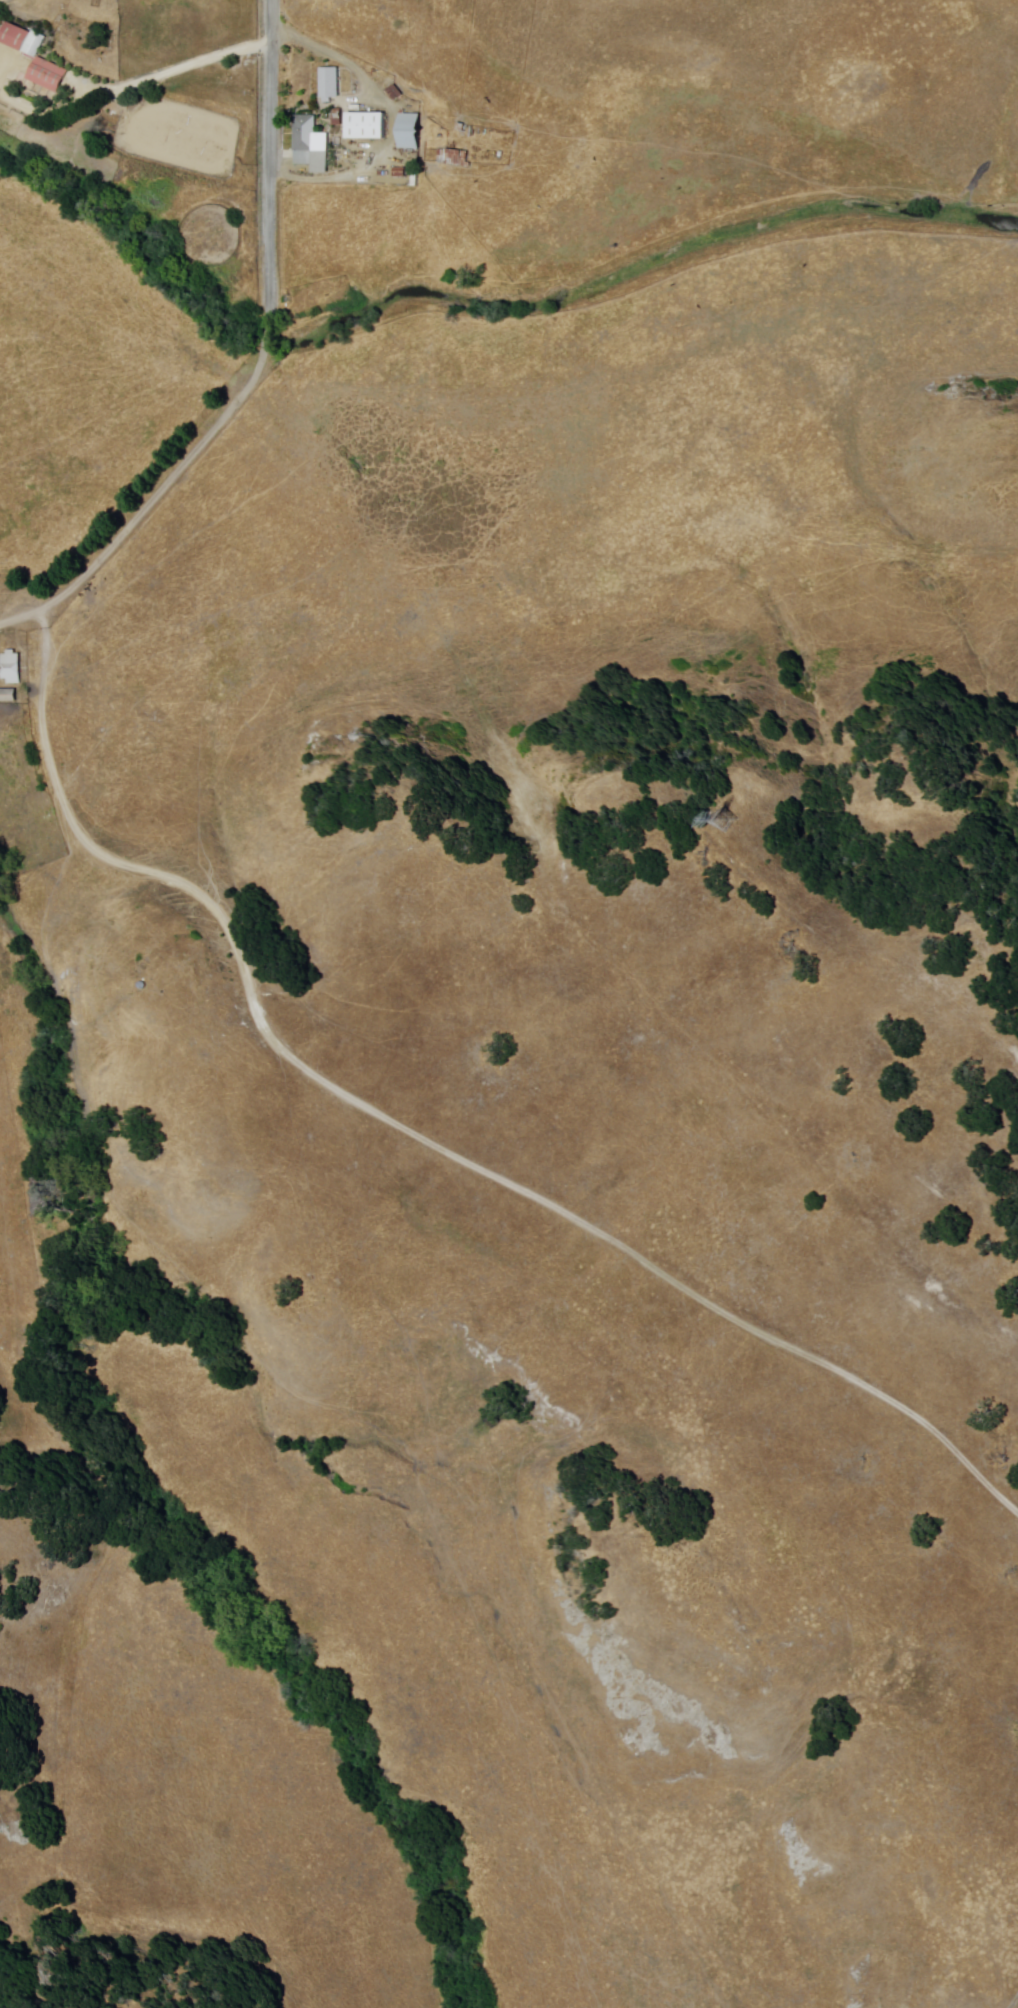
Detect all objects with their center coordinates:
building: (20, 38)
building: (49, 75)
road: (129, 84)
building: (332, 84)
building: (369, 127)
building: (413, 132)
building: (313, 145)
building: (449, 157)
road: (267, 158)
road: (267, 321)
road: (269, 337)
road: (21, 620)
building: (11, 667)
building: (9, 693)
power tower: (717, 818)
road: (275, 1042)
road: (1008, 1995)

